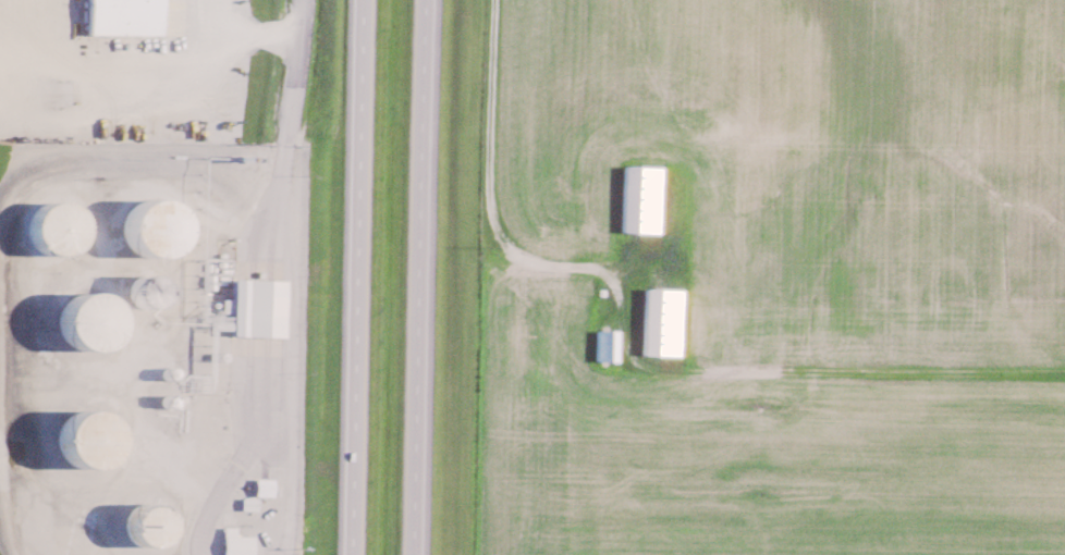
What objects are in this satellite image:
building: (128, 16)
road: (266, 34)
building: (645, 198)
road: (360, 277)
road: (426, 277)
building: (259, 306)
building: (665, 321)
building: (609, 344)
building: (267, 486)
building: (252, 503)
building: (238, 542)

